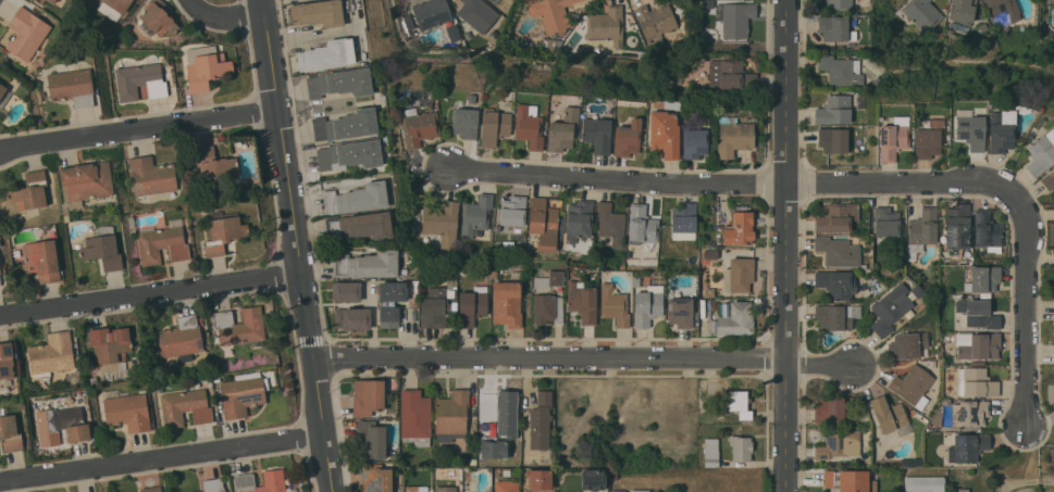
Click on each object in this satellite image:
building: (528, 0)
building: (673, 0)
building: (40, 1)
building: (52, 1)
building: (495, 1)
building: (839, 4)
building: (114, 8)
building: (678, 10)
building: (962, 11)
building: (1003, 11)
building: (318, 12)
building: (432, 13)
building: (474, 13)
building: (922, 13)
road: (228, 14)
building: (553, 14)
building: (736, 18)
building: (157, 20)
building: (408, 23)
building: (655, 24)
building: (606, 25)
building: (833, 27)
building: (26, 33)
building: (548, 43)
building: (327, 54)
building: (873, 62)
building: (206, 66)
building: (841, 70)
building: (730, 74)
building: (140, 81)
building: (339, 83)
building: (72, 86)
building: (3, 94)
building: (382, 97)
building: (860, 98)
building: (671, 101)
building: (555, 103)
building: (642, 103)
building: (671, 105)
building: (834, 110)
building: (464, 122)
building: (495, 124)
building: (347, 125)
building: (419, 126)
building: (529, 126)
building: (1003, 128)
building: (970, 129)
building: (563, 130)
road: (136, 131)
building: (597, 134)
building: (665, 134)
building: (733, 136)
building: (952, 136)
building: (629, 137)
building: (928, 137)
building: (893, 138)
building: (833, 140)
building: (695, 143)
building: (1041, 153)
building: (349, 155)
building: (213, 165)
building: (152, 178)
building: (1049, 179)
building: (86, 185)
road: (737, 185)
building: (28, 191)
building: (357, 198)
building: (721, 210)
building: (513, 211)
building: (476, 215)
building: (683, 217)
building: (838, 217)
building: (579, 219)
building: (443, 223)
building: (544, 224)
building: (642, 224)
building: (133, 225)
building: (562, 225)
building: (610, 225)
building: (360, 226)
building: (888, 226)
building: (957, 227)
building: (740, 229)
building: (921, 230)
building: (988, 230)
building: (223, 234)
building: (162, 242)
road: (295, 245)
road: (788, 245)
building: (102, 248)
building: (838, 251)
building: (708, 258)
building: (42, 260)
building: (367, 264)
building: (0, 270)
building: (494, 274)
building: (739, 275)
building: (983, 278)
building: (549, 279)
building: (0, 281)
building: (636, 281)
building: (836, 283)
building: (346, 291)
building: (702, 291)
building: (710, 292)
building: (956, 294)
road: (150, 298)
building: (582, 302)
building: (390, 303)
building: (507, 303)
building: (438, 304)
building: (472, 305)
building: (615, 305)
building: (648, 305)
building: (547, 308)
building: (889, 310)
building: (681, 312)
road: (1028, 312)
building: (978, 313)
building: (835, 316)
building: (354, 318)
building: (735, 318)
building: (238, 328)
building: (181, 338)
building: (907, 345)
building: (978, 345)
building: (111, 349)
building: (139, 352)
building: (51, 354)
building: (8, 358)
road: (585, 362)
building: (932, 363)
building: (978, 363)
building: (976, 382)
building: (913, 386)
building: (159, 388)
building: (243, 393)
building: (369, 396)
building: (739, 403)
building: (507, 405)
building: (705, 406)
building: (185, 407)
building: (126, 409)
building: (830, 409)
building: (969, 413)
building: (451, 415)
building: (890, 416)
building: (416, 417)
building: (541, 420)
building: (61, 422)
building: (10, 432)
building: (488, 433)
building: (372, 438)
building: (838, 443)
building: (494, 447)
building: (741, 447)
building: (967, 447)
building: (711, 452)
road: (162, 457)
building: (472, 462)
building: (910, 462)
building: (612, 474)
building: (376, 478)
building: (538, 478)
building: (593, 479)
building: (244, 480)
building: (847, 480)
building: (923, 483)
building: (213, 484)
building: (507, 485)
building: (151, 489)
building: (417, 489)
building: (446, 489)
building: (960, 490)
building: (618, 491)
building: (640, 491)

